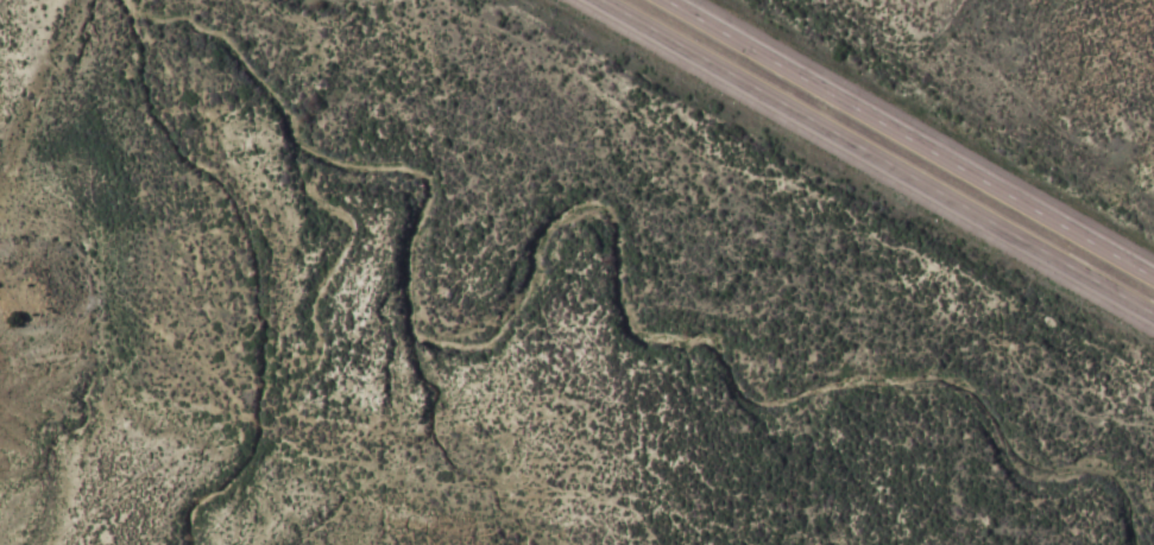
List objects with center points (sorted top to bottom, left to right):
road: (912, 137)
road: (876, 157)
road: (101, 465)

